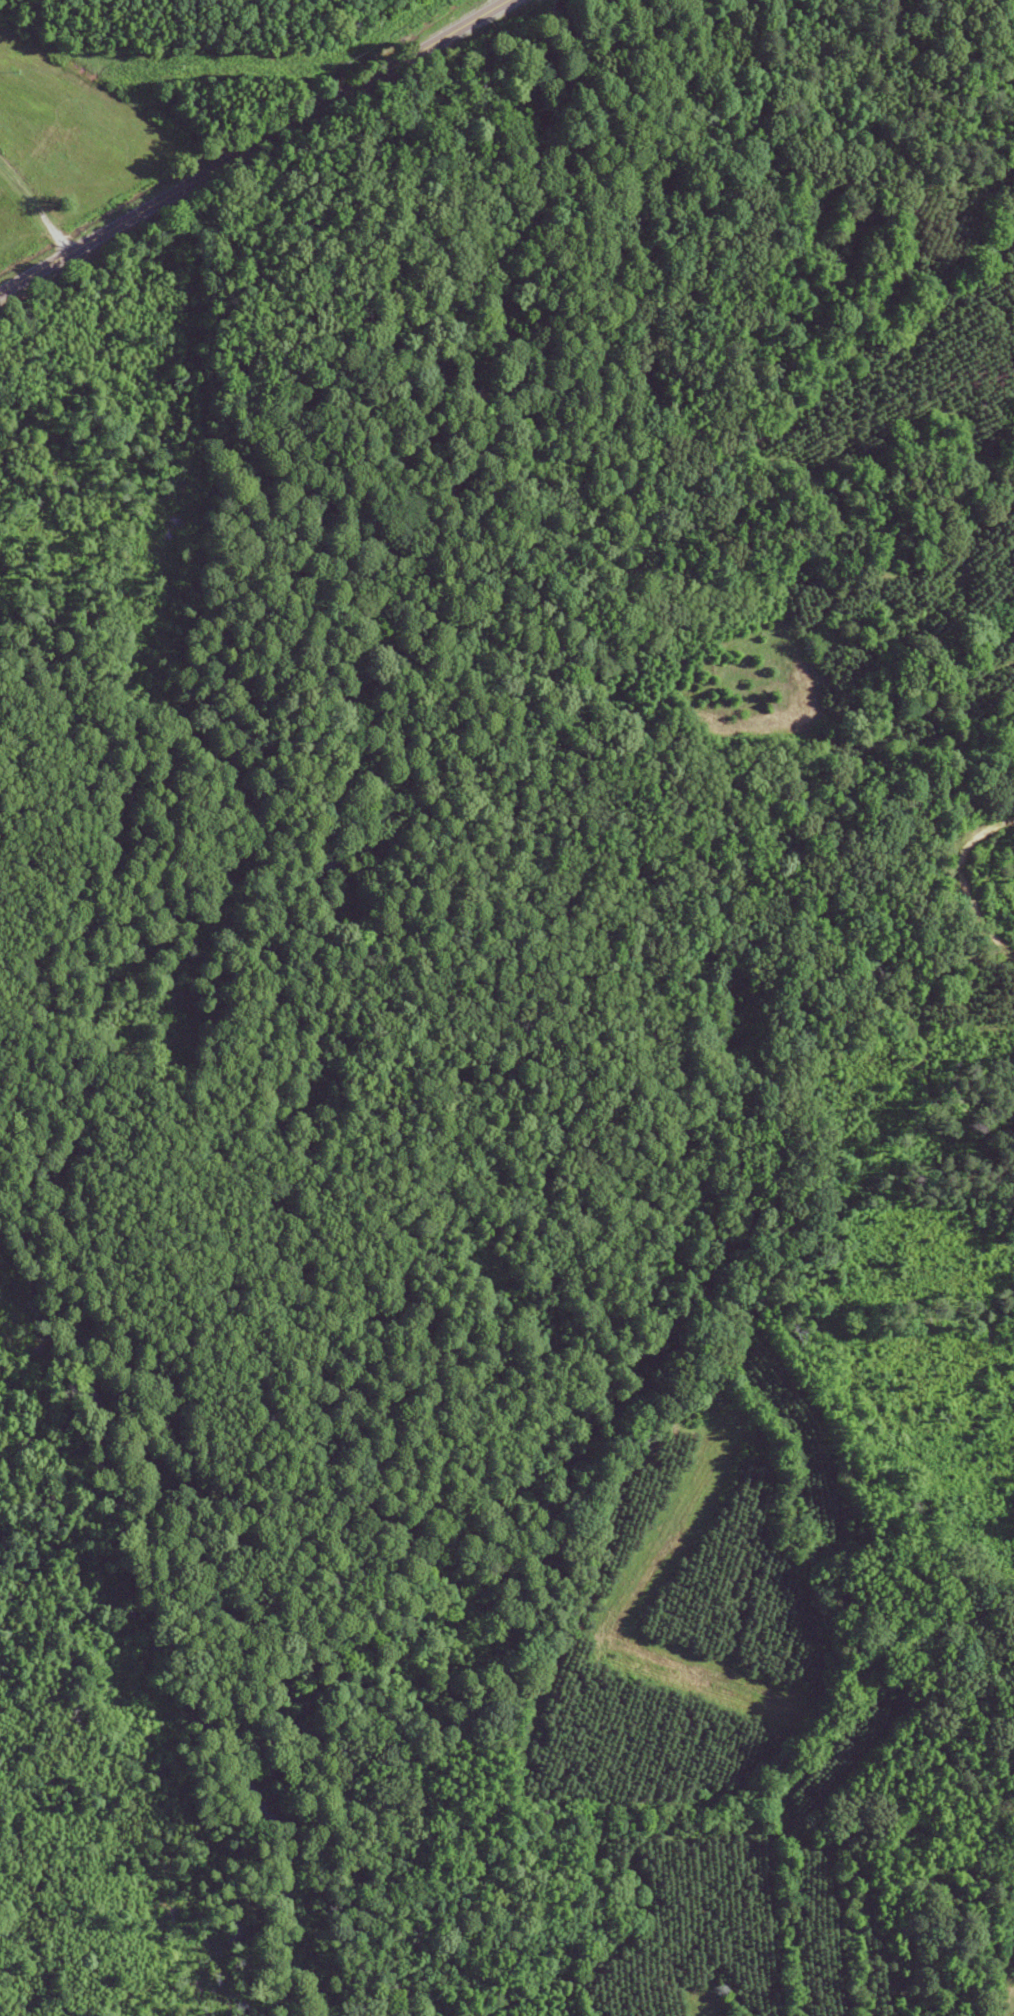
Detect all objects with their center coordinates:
road: (252, 146)

